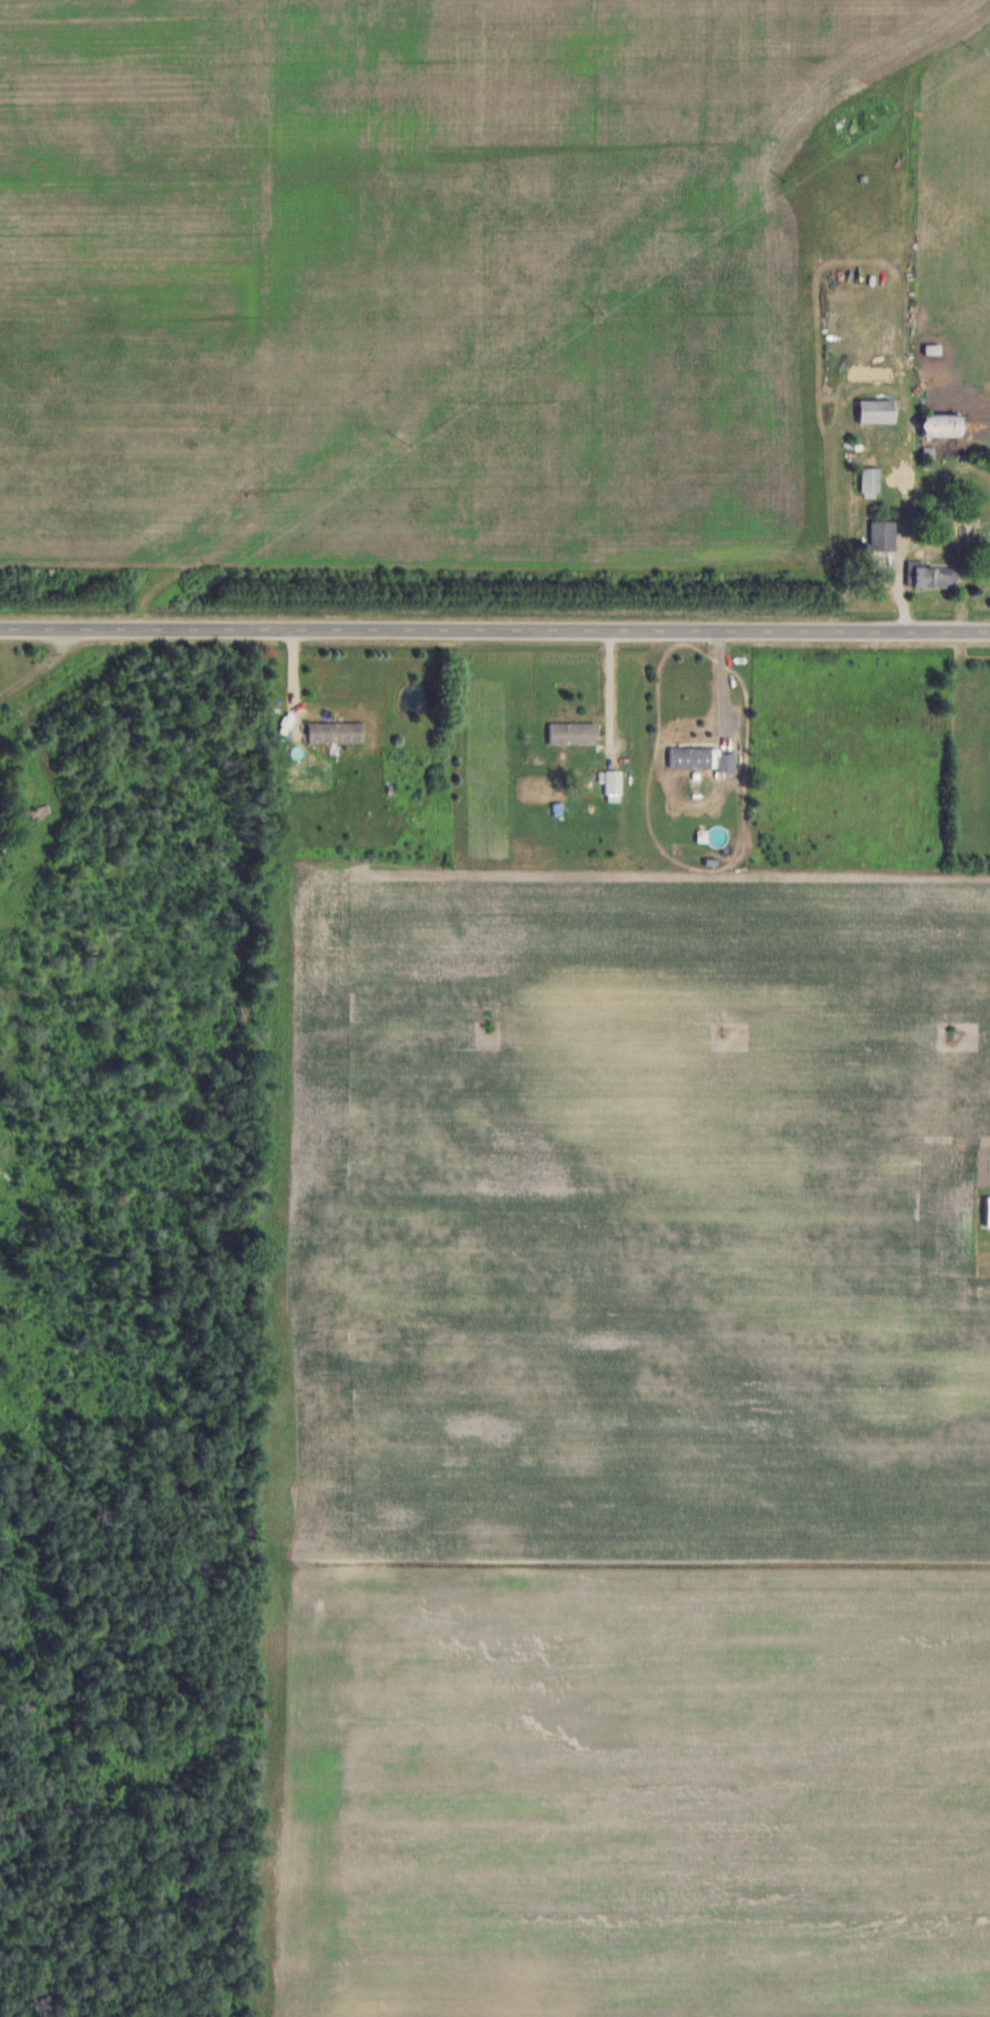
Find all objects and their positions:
building: (878, 411)
building: (943, 425)
building: (870, 480)
building: (883, 535)
building: (932, 576)
road: (494, 634)
road: (716, 689)
road: (600, 690)
building: (336, 733)
building: (573, 734)
building: (690, 759)
building: (726, 763)
building: (613, 783)
building: (33, 813)
building: (988, 1211)

